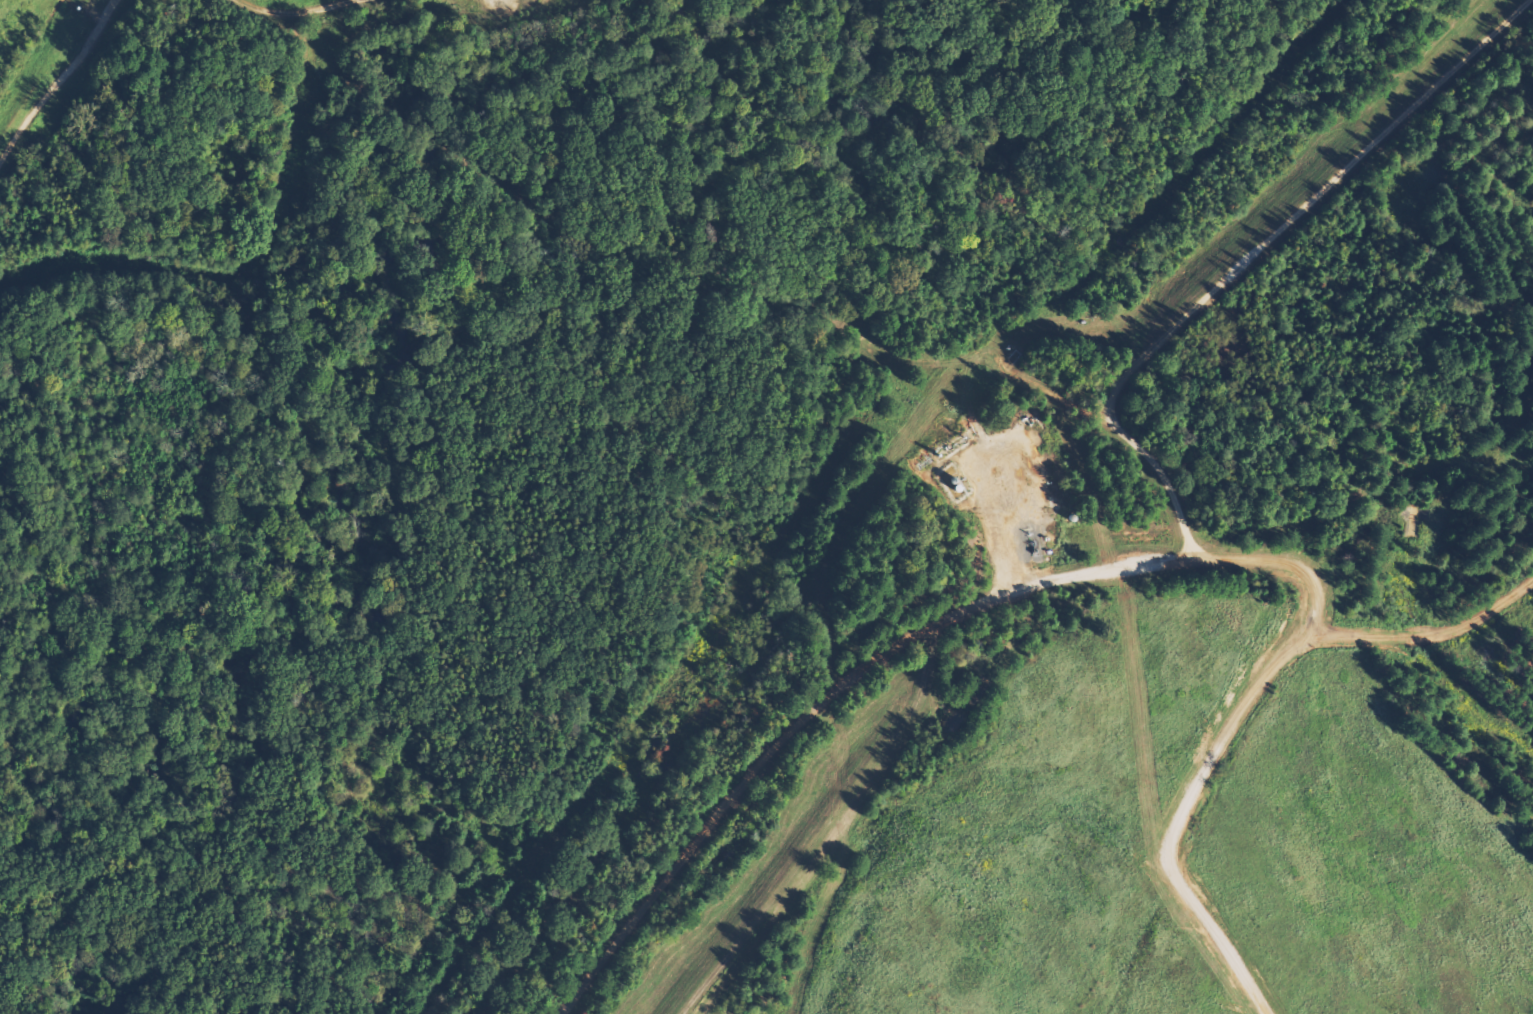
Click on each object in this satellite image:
road: (1241, 715)

